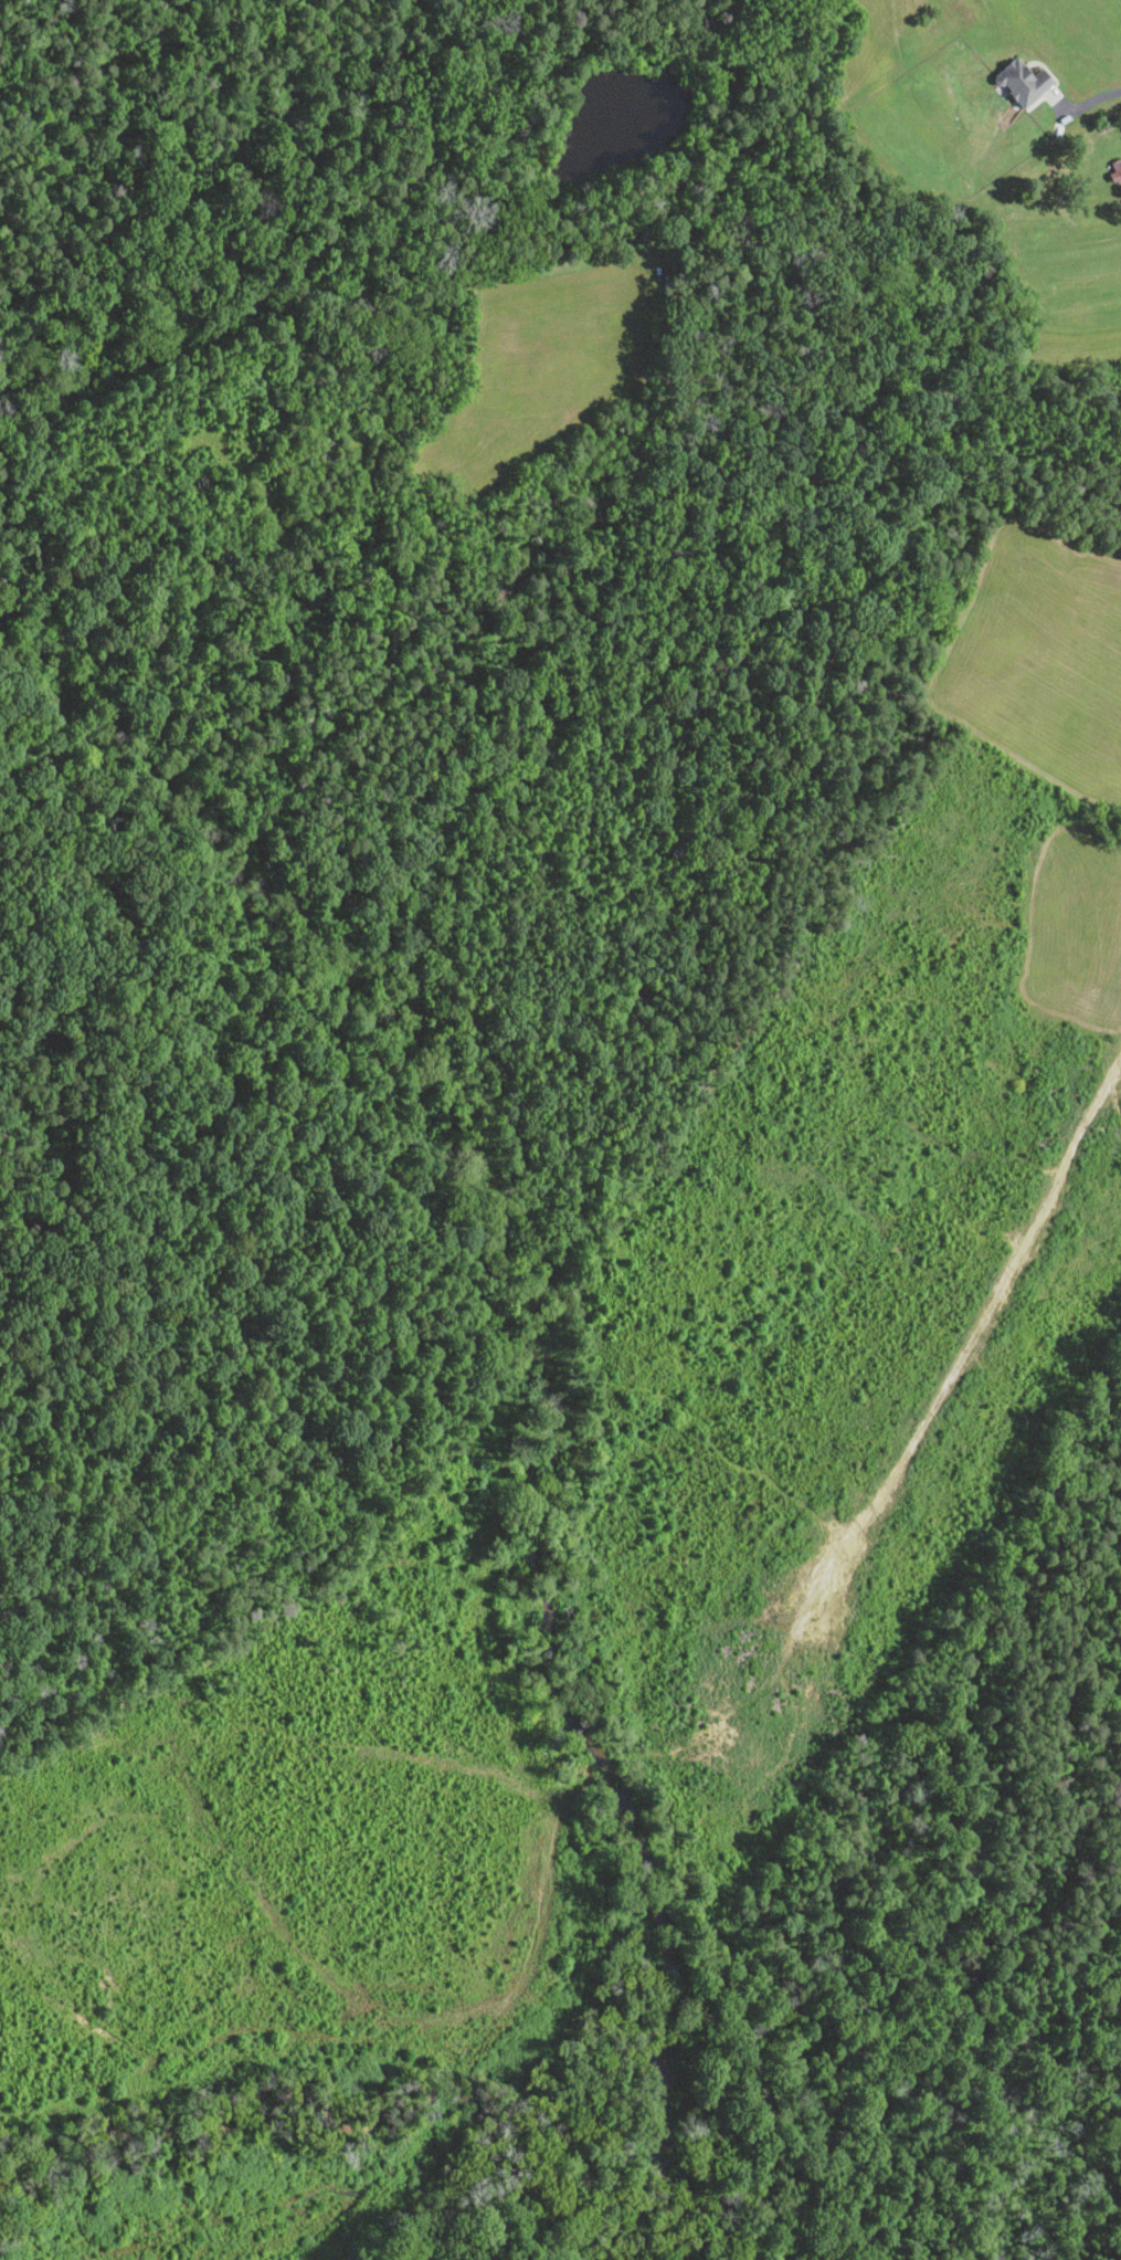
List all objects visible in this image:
building: (1019, 80)
road: (1094, 99)
building: (1114, 170)

